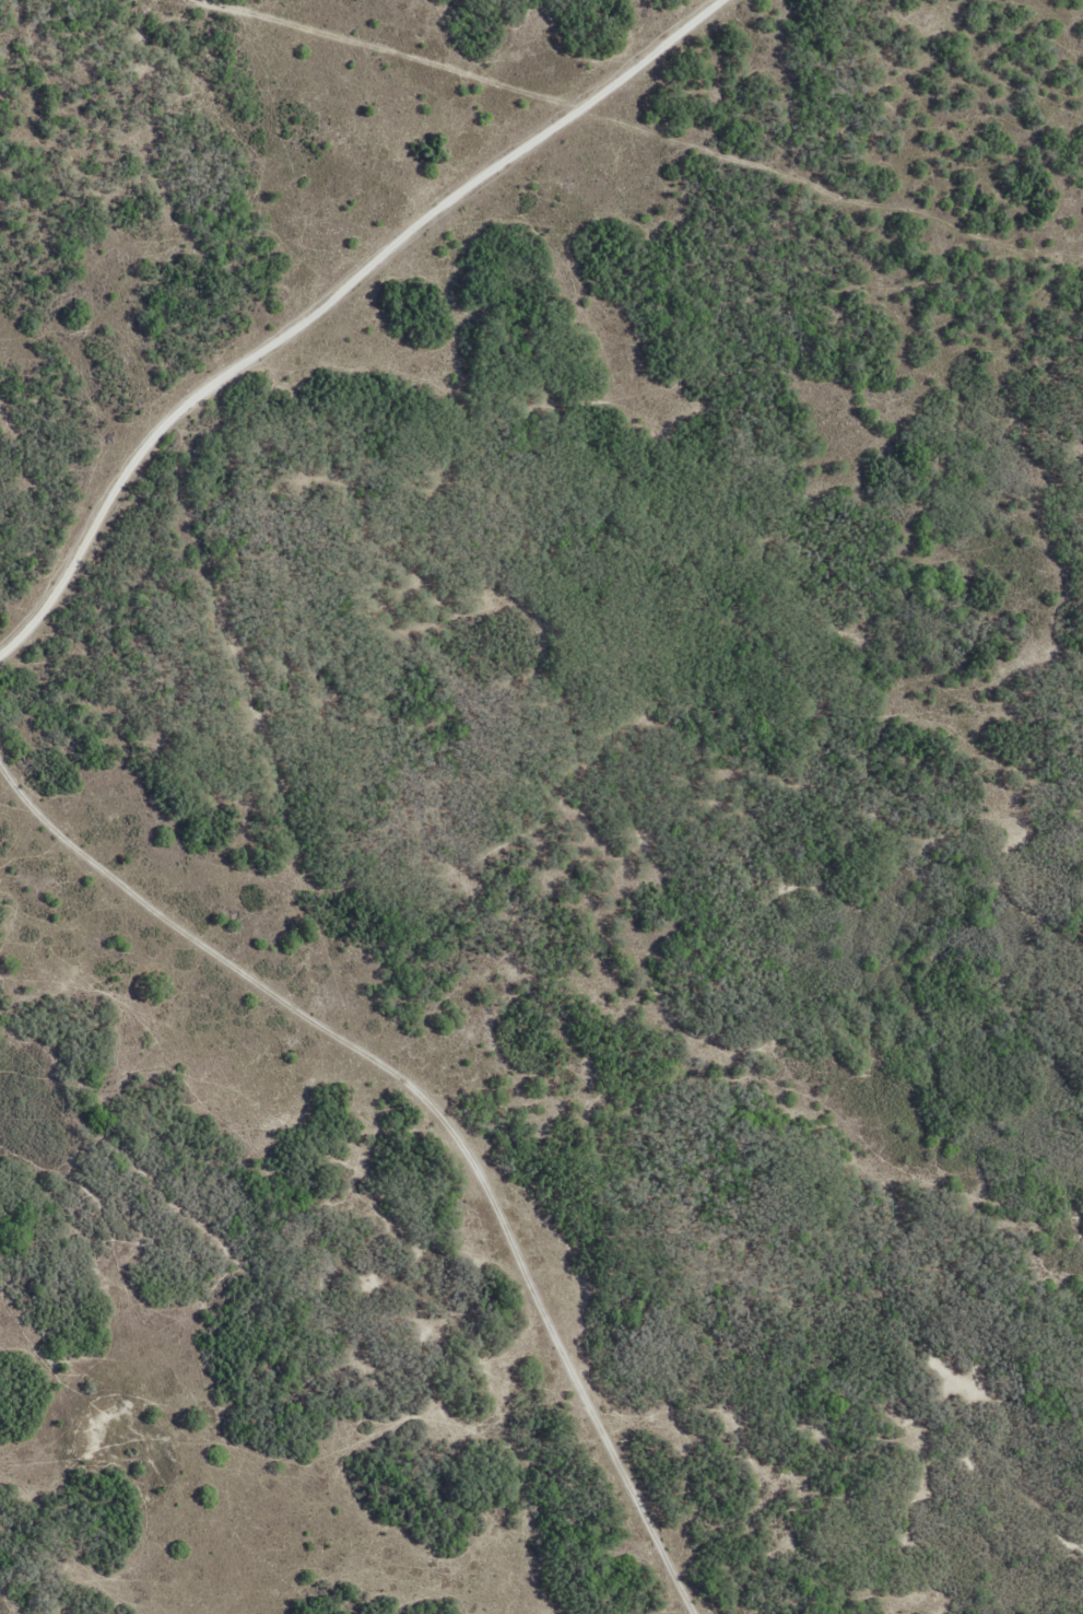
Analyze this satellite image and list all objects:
road: (342, 293)
road: (224, 570)

